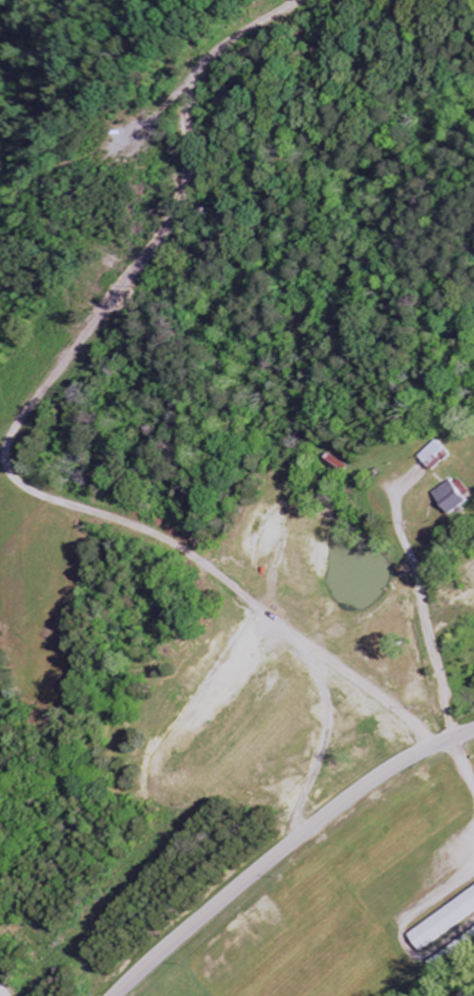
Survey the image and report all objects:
road: (103, 317)
building: (436, 457)
building: (455, 497)
road: (425, 603)
road: (240, 604)
road: (466, 768)
road: (284, 848)
road: (444, 871)
building: (444, 924)

